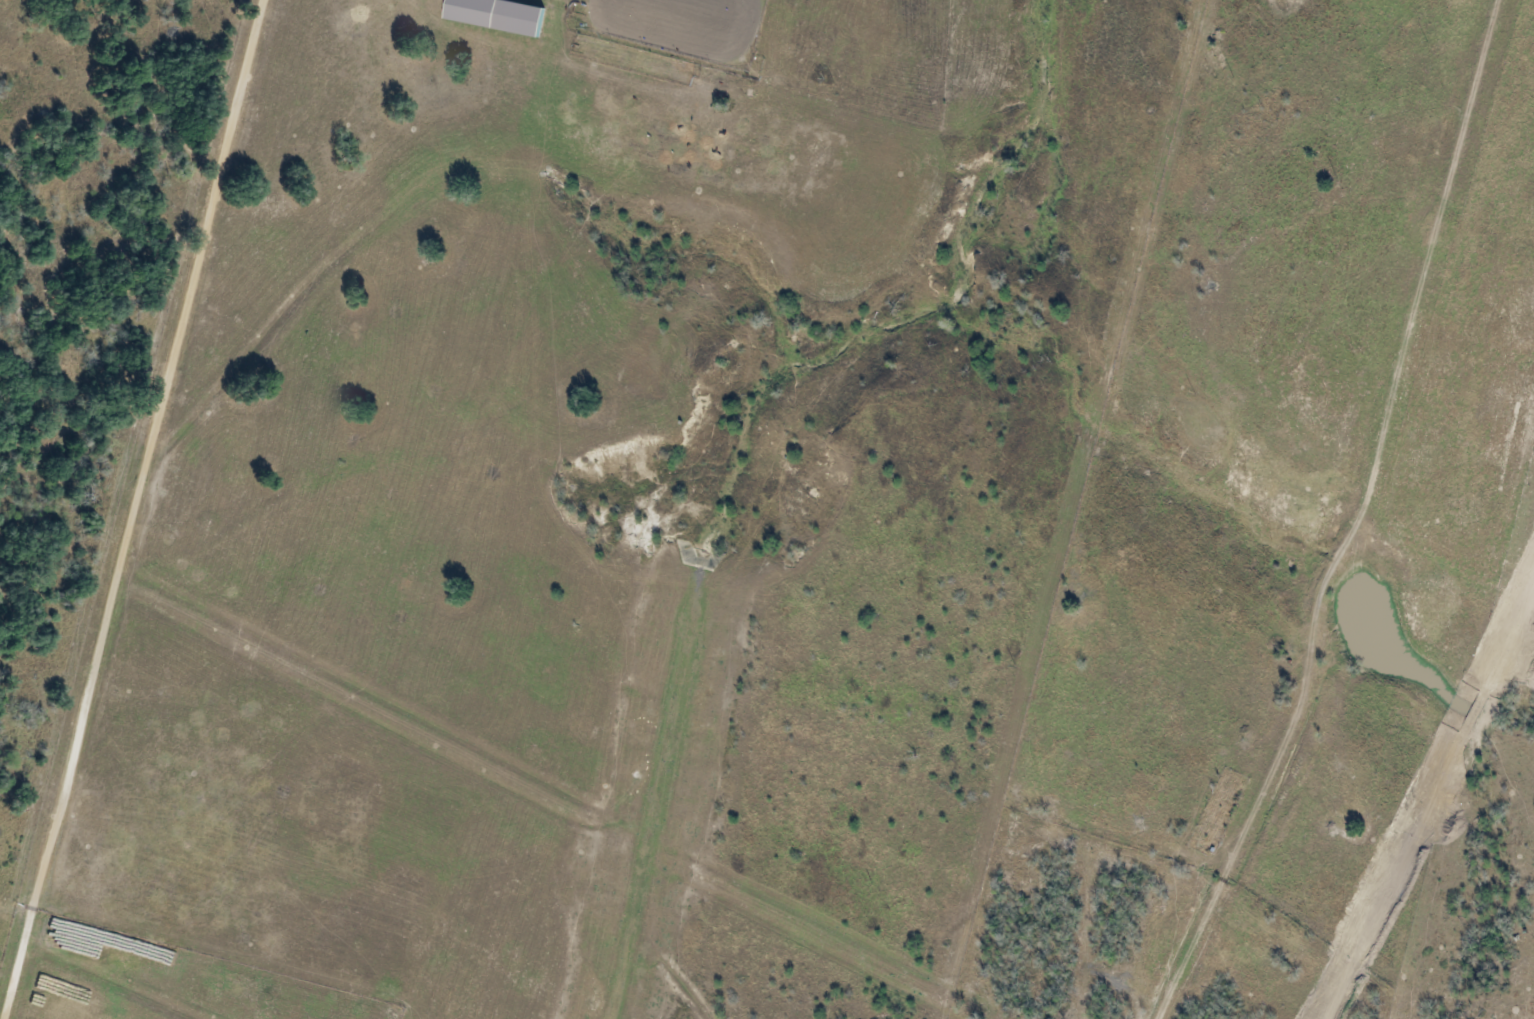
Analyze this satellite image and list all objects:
building: (525, 19)

